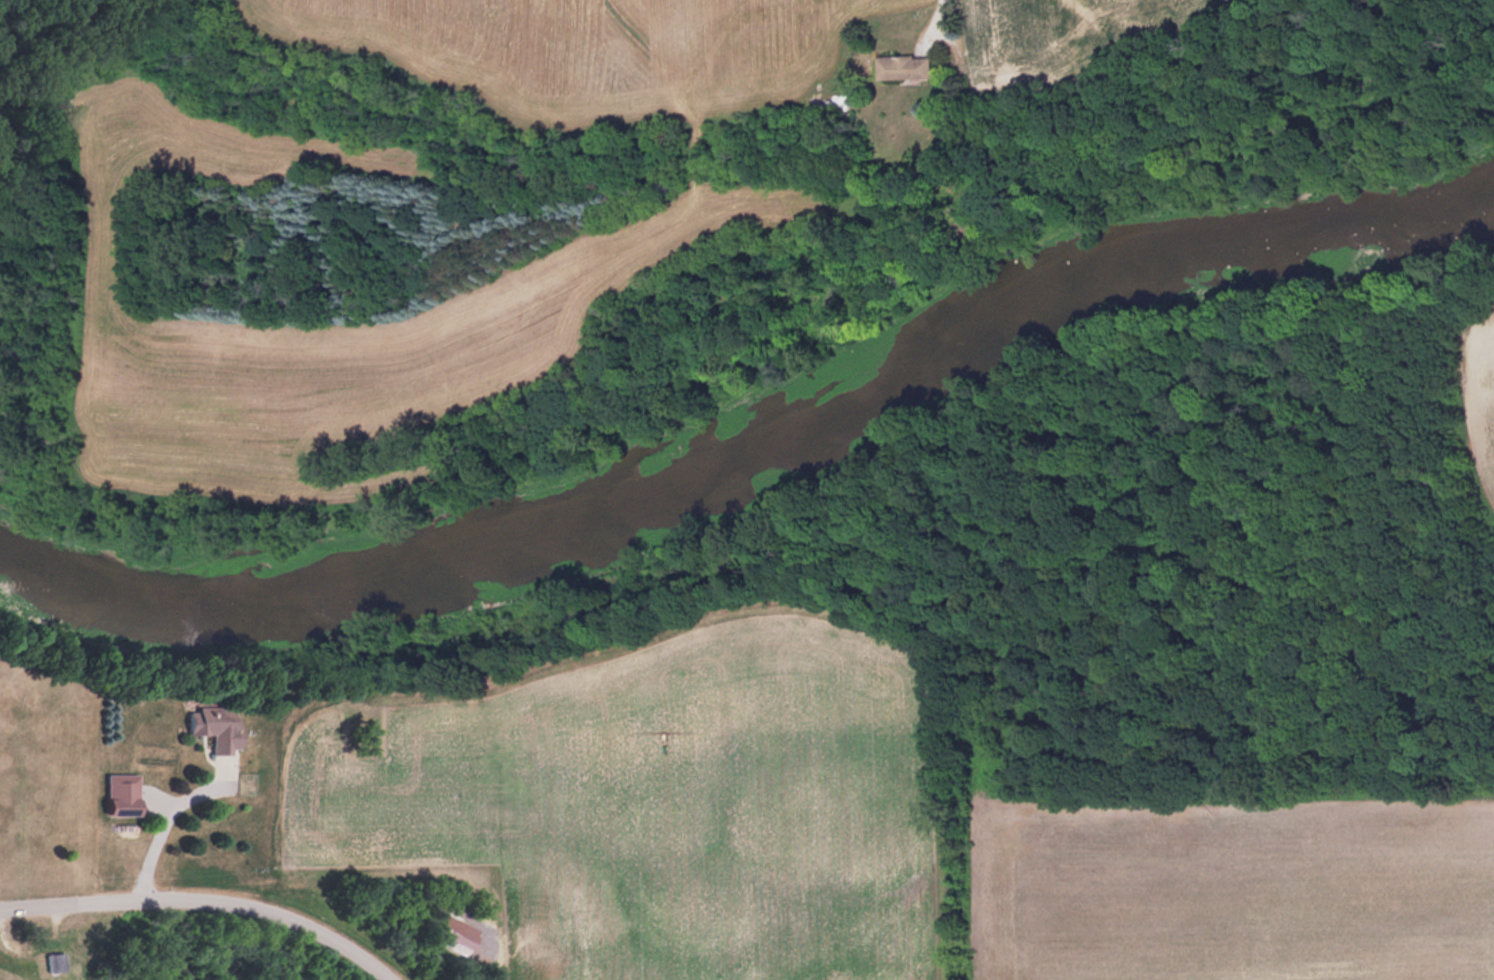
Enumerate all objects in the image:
building: (907, 66)
road: (952, 130)
river: (756, 445)
building: (219, 725)
road: (160, 827)
road: (201, 907)
building: (3, 956)
building: (58, 962)

